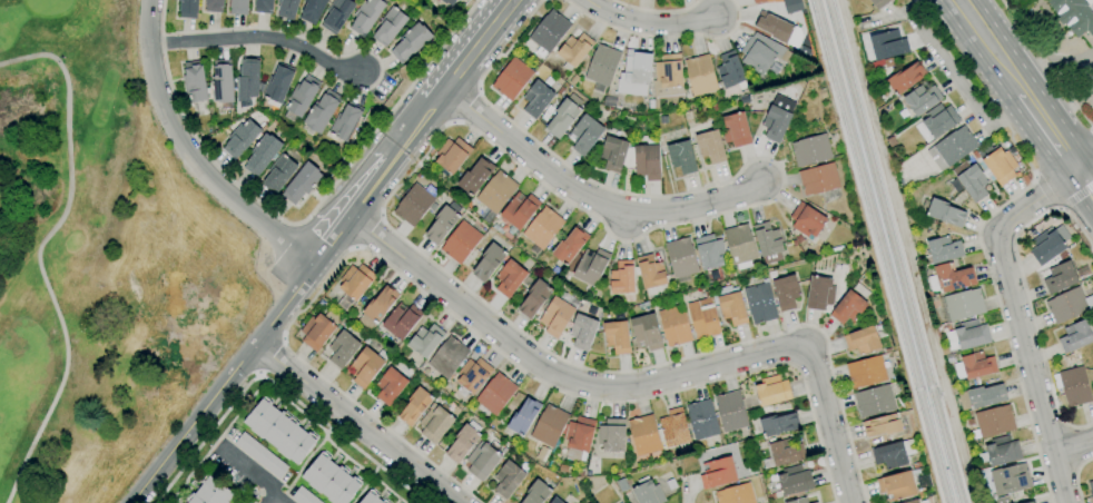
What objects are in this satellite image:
building: (447, 1)
building: (757, 1)
building: (878, 3)
building: (214, 6)
building: (790, 6)
building: (238, 7)
building: (264, 7)
building: (287, 8)
building: (188, 9)
road: (653, 9)
road: (953, 9)
road: (969, 9)
building: (312, 10)
building: (337, 14)
building: (366, 16)
building: (1073, 16)
road: (650, 20)
building: (390, 26)
building: (774, 27)
building: (548, 32)
road: (259, 34)
road: (661, 34)
building: (411, 42)
road: (477, 46)
building: (887, 47)
building: (573, 50)
building: (764, 52)
road: (996, 55)
road: (1051, 60)
road: (1045, 63)
building: (602, 65)
building: (730, 70)
building: (634, 75)
building: (700, 75)
building: (668, 77)
building: (906, 78)
building: (512, 79)
road: (955, 79)
building: (247, 80)
building: (195, 81)
building: (221, 82)
building: (277, 85)
building: (302, 96)
road: (1025, 96)
building: (536, 99)
building: (922, 99)
road: (1069, 106)
building: (322, 111)
building: (563, 116)
building: (777, 118)
building: (345, 121)
building: (936, 122)
building: (735, 130)
building: (584, 134)
road: (1051, 134)
road: (482, 136)
building: (240, 139)
building: (710, 147)
building: (952, 148)
road: (191, 150)
building: (810, 150)
building: (262, 154)
building: (613, 154)
building: (452, 155)
building: (681, 157)
building: (644, 159)
road: (1084, 162)
building: (997, 164)
building: (278, 174)
road: (375, 175)
building: (474, 177)
building: (818, 179)
building: (971, 180)
road: (1084, 180)
building: (301, 183)
building: (495, 191)
road: (1046, 193)
road: (590, 197)
road: (1079, 200)
building: (413, 205)
building: (519, 210)
building: (944, 213)
building: (807, 219)
road: (301, 221)
building: (443, 223)
road: (982, 227)
building: (542, 228)
road: (366, 231)
building: (768, 241)
building: (461, 243)
building: (569, 246)
building: (740, 246)
building: (1046, 247)
railway: (879, 250)
building: (942, 250)
building: (710, 251)
railway: (893, 251)
road: (39, 254)
building: (681, 258)
park: (99, 259)
building: (488, 263)
building: (590, 266)
building: (651, 272)
building: (622, 277)
building: (1061, 277)
building: (509, 278)
building: (949, 278)
building: (355, 280)
building: (786, 292)
building: (819, 293)
road: (1026, 295)
building: (534, 298)
road: (285, 303)
building: (760, 303)
building: (850, 305)
building: (962, 305)
building: (1069, 305)
building: (730, 306)
building: (377, 307)
building: (555, 317)
building: (703, 318)
road: (1015, 318)
building: (401, 320)
road: (460, 322)
building: (674, 326)
building: (318, 329)
building: (582, 332)
building: (646, 332)
building: (967, 335)
building: (1075, 336)
building: (617, 337)
building: (425, 339)
building: (863, 341)
building: (342, 348)
building: (447, 357)
road: (272, 359)
building: (974, 365)
building: (366, 367)
building: (866, 372)
building: (473, 375)
building: (393, 383)
road: (632, 386)
building: (1073, 386)
road: (275, 388)
building: (771, 391)
road: (253, 392)
building: (496, 394)
building: (981, 396)
building: (874, 401)
building: (414, 406)
building: (731, 412)
building: (523, 416)
building: (702, 420)
road: (191, 422)
road: (355, 422)
building: (993, 422)
building: (435, 424)
building: (778, 424)
building: (549, 425)
building: (882, 425)
building: (673, 428)
building: (279, 431)
building: (643, 434)
building: (612, 435)
building: (578, 438)
building: (463, 442)
road: (213, 443)
road: (1073, 446)
road: (218, 447)
building: (1003, 451)
building: (782, 453)
building: (894, 454)
building: (260, 455)
building: (482, 461)
building: (718, 473)
road: (254, 475)
road: (1076, 476)
building: (508, 479)
building: (331, 480)
building: (1011, 480)
building: (790, 482)
building: (896, 486)
building: (1091, 487)
building: (210, 492)
building: (648, 492)
building: (536, 493)
building: (736, 494)
building: (304, 496)
building: (1016, 497)
building: (371, 499)
building: (1002, 500)
building: (555, 501)
building: (799, 501)
building: (914, 501)
building: (239, 502)
road: (272, 502)
building: (815, 502)
building: (1032, 502)

